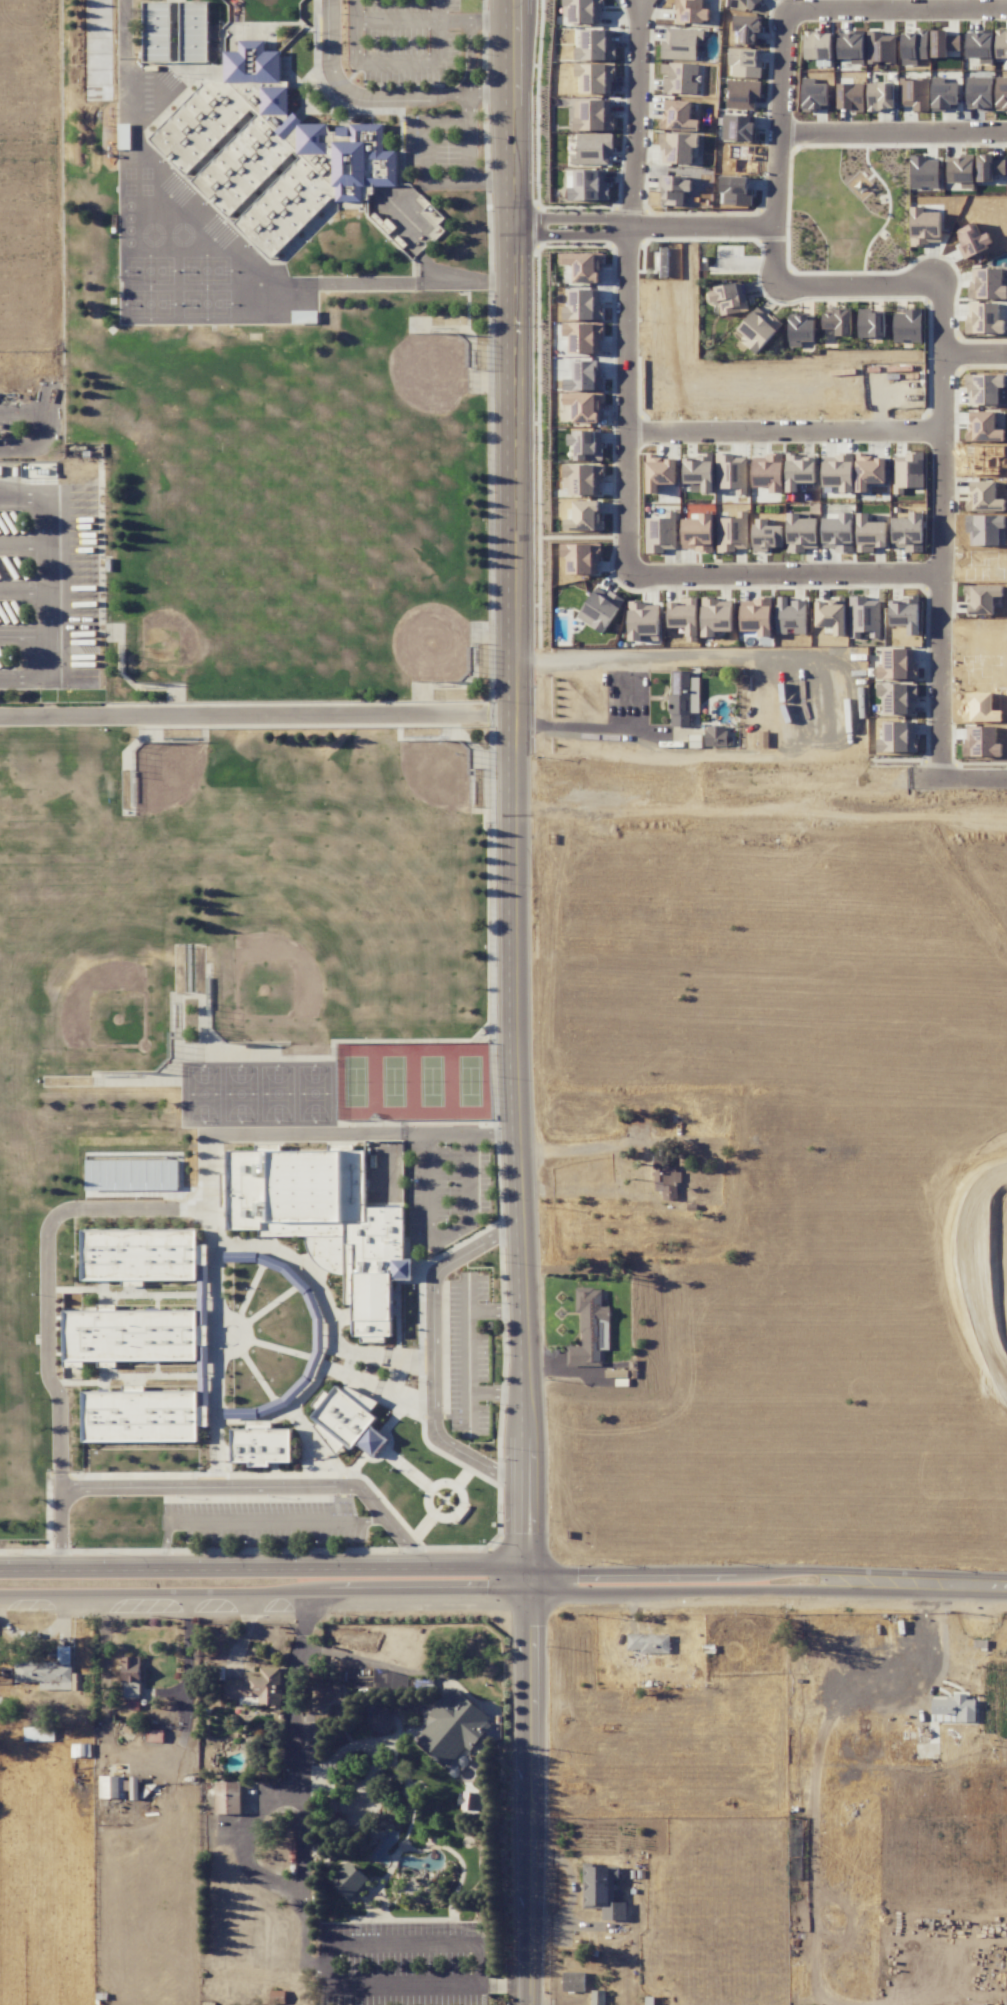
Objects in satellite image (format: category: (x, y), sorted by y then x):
building: (749, 3)
road: (841, 4)
building: (582, 11)
building: (691, 11)
road: (395, 20)
road: (492, 21)
building: (747, 28)
building: (174, 31)
road: (470, 40)
building: (681, 43)
building: (944, 44)
building: (816, 45)
building: (596, 46)
building: (980, 46)
building: (1001, 46)
building: (881, 47)
building: (914, 47)
building: (851, 48)
building: (744, 63)
road: (395, 64)
building: (596, 77)
building: (679, 77)
road: (514, 89)
building: (1001, 91)
building: (914, 93)
road: (492, 94)
building: (742, 94)
building: (979, 95)
building: (850, 96)
building: (880, 96)
building: (944, 96)
road: (360, 97)
building: (815, 97)
road: (470, 107)
road: (639, 111)
building: (593, 115)
building: (678, 116)
road: (449, 121)
road: (896, 127)
building: (739, 128)
building: (677, 147)
building: (593, 149)
road: (470, 150)
building: (267, 151)
building: (961, 171)
road: (428, 172)
building: (923, 173)
road: (493, 179)
building: (674, 190)
road: (694, 223)
building: (924, 227)
road: (190, 229)
road: (515, 232)
building: (972, 240)
building: (583, 266)
road: (435, 271)
road: (465, 283)
building: (987, 284)
building: (729, 298)
building: (584, 305)
building: (983, 318)
building: (838, 321)
building: (871, 324)
building: (907, 325)
building: (758, 328)
building: (801, 330)
building: (584, 337)
road: (978, 359)
building: (585, 376)
building: (986, 389)
building: (585, 406)
road: (868, 425)
road: (37, 427)
building: (983, 427)
building: (585, 444)
building: (799, 470)
building: (870, 470)
road: (635, 472)
building: (660, 472)
building: (698, 472)
building: (768, 472)
building: (838, 472)
building: (907, 472)
building: (732, 473)
building: (583, 479)
building: (984, 496)
building: (585, 516)
building: (837, 532)
building: (908, 532)
building: (660, 533)
building: (697, 533)
building: (732, 533)
building: (801, 533)
building: (870, 534)
building: (766, 535)
road: (24, 546)
building: (581, 558)
road: (839, 579)
road: (48, 590)
road: (24, 591)
building: (983, 598)
building: (600, 609)
building: (831, 614)
building: (905, 614)
building: (756, 616)
building: (790, 616)
building: (715, 617)
building: (864, 617)
road: (24, 635)
building: (896, 663)
building: (898, 697)
building: (683, 698)
road: (947, 711)
road: (258, 715)
road: (601, 729)
building: (715, 736)
building: (897, 737)
building: (981, 742)
road: (458, 1133)
road: (515, 1135)
road: (579, 1151)
building: (131, 1175)
building: (665, 1178)
road: (125, 1207)
building: (324, 1222)
road: (441, 1237)
building: (138, 1255)
building: (588, 1327)
road: (468, 1350)
road: (433, 1355)
building: (141, 1416)
building: (347, 1418)
building: (260, 1444)
road: (61, 1484)
road: (262, 1486)
road: (254, 1521)
road: (60, 1527)
road: (459, 1565)
road: (962, 1586)
road: (459, 1593)
road: (303, 1620)
building: (648, 1643)
road: (945, 1652)
road: (347, 1655)
building: (131, 1669)
building: (50, 1672)
road: (188, 1685)
building: (256, 1686)
building: (954, 1709)
building: (380, 1721)
building: (453, 1728)
building: (39, 1734)
building: (154, 1735)
road: (299, 1767)
building: (117, 1787)
building: (228, 1797)
road: (245, 1842)
building: (350, 1881)
building: (602, 1892)
road: (304, 1927)
road: (316, 1963)
road: (327, 1967)
building: (573, 1981)
road: (527, 1995)
building: (597, 1997)

